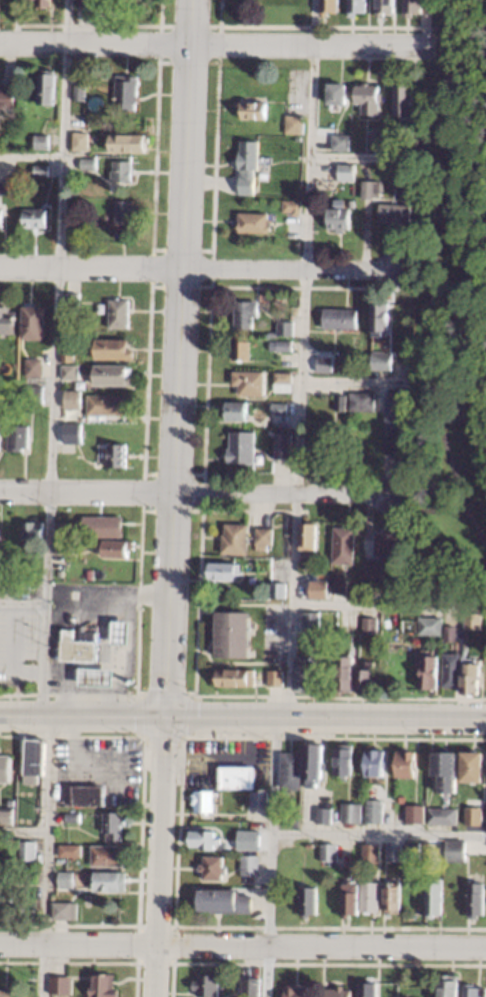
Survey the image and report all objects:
building: (42, 2)
building: (326, 7)
building: (355, 7)
building: (381, 7)
building: (410, 7)
road: (198, 26)
road: (326, 27)
road: (215, 45)
building: (45, 87)
building: (78, 91)
building: (124, 91)
building: (335, 93)
building: (6, 97)
building: (366, 97)
building: (403, 101)
building: (251, 109)
building: (293, 124)
building: (279, 126)
building: (375, 136)
building: (90, 137)
building: (296, 138)
building: (390, 139)
building: (78, 140)
building: (40, 141)
building: (338, 141)
building: (126, 142)
road: (30, 156)
road: (361, 156)
building: (86, 163)
building: (246, 165)
building: (38, 170)
building: (344, 171)
building: (119, 172)
building: (369, 188)
building: (290, 206)
building: (122, 211)
building: (393, 212)
building: (0, 217)
building: (33, 217)
building: (337, 219)
building: (252, 223)
building: (71, 228)
road: (151, 250)
road: (195, 269)
road: (430, 279)
road: (319, 288)
building: (69, 300)
building: (117, 313)
building: (243, 313)
building: (378, 316)
building: (338, 318)
park: (450, 319)
building: (6, 320)
building: (31, 322)
building: (283, 328)
building: (270, 334)
building: (282, 345)
building: (111, 348)
building: (239, 350)
building: (65, 353)
road: (52, 357)
road: (176, 357)
road: (300, 358)
building: (379, 360)
building: (323, 364)
building: (31, 367)
building: (68, 372)
building: (111, 374)
building: (281, 381)
building: (247, 382)
road: (349, 383)
building: (33, 394)
building: (359, 400)
building: (338, 402)
building: (76, 404)
building: (104, 404)
building: (278, 408)
building: (233, 409)
building: (393, 424)
building: (269, 432)
building: (70, 433)
building: (16, 437)
building: (319, 442)
building: (280, 445)
building: (65, 447)
building: (239, 447)
building: (115, 455)
road: (190, 493)
road: (420, 510)
building: (101, 526)
building: (65, 528)
building: (31, 531)
building: (262, 535)
building: (307, 535)
building: (232, 539)
building: (386, 543)
building: (64, 545)
building: (341, 545)
building: (116, 547)
building: (370, 568)
building: (222, 571)
building: (57, 572)
building: (337, 584)
building: (312, 585)
building: (276, 589)
road: (22, 603)
road: (387, 606)
building: (309, 620)
building: (471, 621)
building: (13, 622)
building: (407, 622)
building: (368, 624)
building: (427, 626)
building: (120, 631)
building: (231, 633)
building: (448, 633)
building: (78, 646)
building: (385, 650)
building: (450, 669)
building: (5, 671)
building: (427, 671)
building: (302, 672)
park: (485, 672)
building: (343, 673)
building: (469, 674)
building: (95, 677)
building: (235, 677)
building: (274, 678)
building: (364, 678)
road: (176, 695)
road: (336, 697)
road: (81, 715)
traffic signals: (163, 716)
road: (324, 717)
building: (37, 756)
building: (345, 759)
building: (407, 763)
building: (315, 764)
building: (377, 764)
building: (474, 766)
building: (6, 768)
building: (292, 770)
building: (447, 770)
building: (239, 776)
building: (89, 795)
building: (260, 799)
building: (205, 800)
building: (13, 802)
building: (352, 812)
building: (375, 813)
building: (417, 813)
building: (30, 815)
building: (325, 815)
building: (443, 815)
building: (7, 816)
building: (475, 816)
building: (74, 817)
building: (292, 818)
building: (114, 824)
road: (23, 831)
road: (378, 834)
building: (259, 836)
building: (204, 839)
building: (247, 839)
building: (29, 850)
building: (71, 850)
building: (414, 850)
building: (457, 850)
building: (330, 851)
building: (373, 852)
building: (396, 853)
building: (109, 854)
road: (45, 855)
road: (157, 856)
road: (269, 857)
building: (251, 865)
building: (214, 867)
building: (67, 879)
building: (111, 880)
building: (7, 897)
building: (372, 897)
building: (394, 897)
building: (436, 898)
building: (352, 899)
building: (477, 900)
building: (226, 901)
building: (310, 901)
building: (66, 911)
road: (243, 944)
building: (62, 985)
building: (208, 985)
building: (450, 985)
building: (105, 986)
building: (252, 987)
building: (369, 989)
building: (296, 991)
building: (474, 991)
building: (10, 992)
building: (340, 992)

